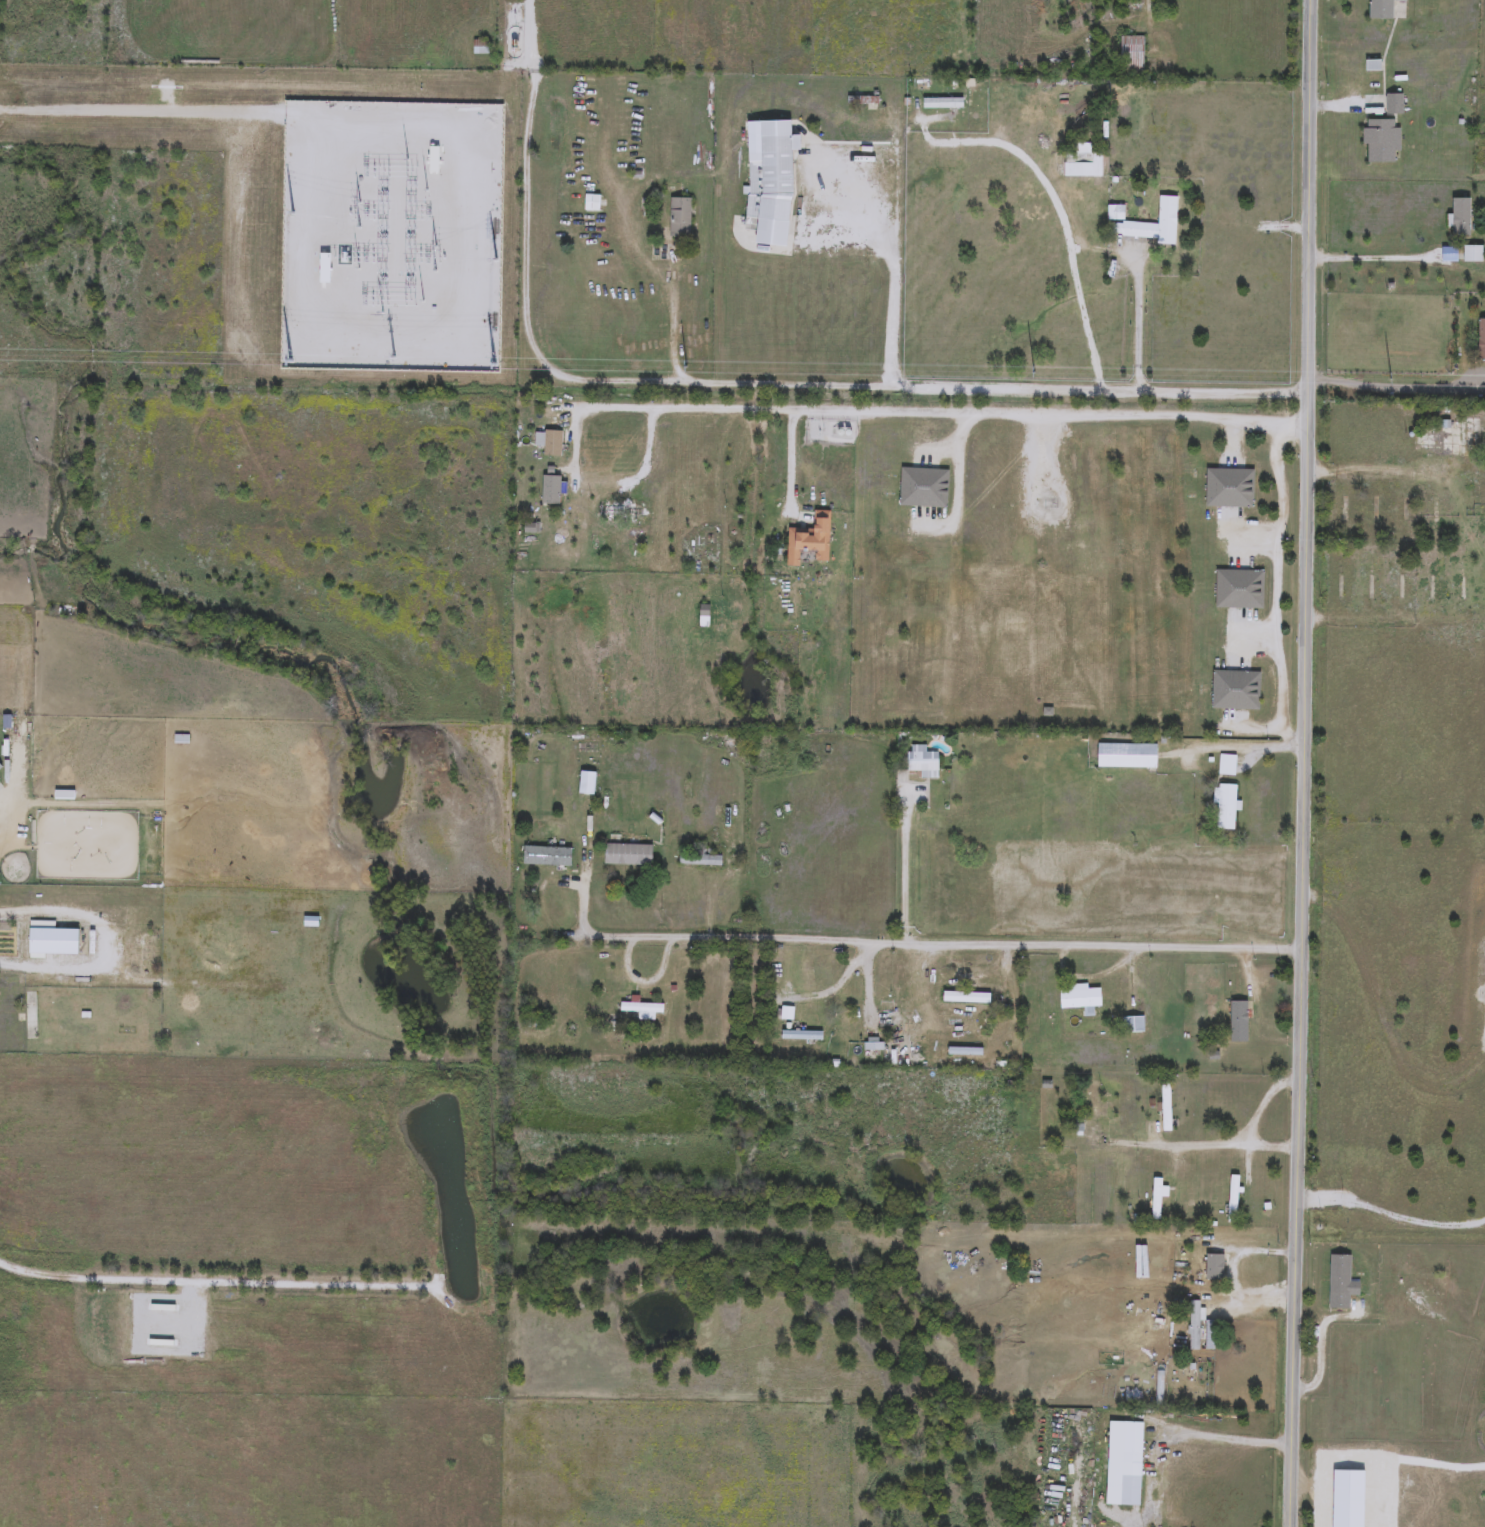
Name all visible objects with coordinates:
building: (1381, 9)
road: (1147, 25)
building: (479, 49)
building: (1132, 57)
building: (861, 102)
building: (940, 104)
building: (1394, 106)
road: (1345, 107)
road: (890, 108)
building: (1381, 142)
building: (1082, 166)
road: (825, 179)
building: (771, 181)
building: (591, 205)
building: (1462, 219)
building: (679, 220)
building: (1153, 226)
road: (1070, 238)
building: (1473, 255)
road: (1377, 261)
road: (895, 266)
road: (1139, 330)
building: (1481, 341)
road: (758, 386)
road: (1392, 392)
road: (914, 414)
building: (1450, 437)
building: (552, 445)
road: (1394, 472)
building: (923, 489)
building: (1229, 490)
building: (550, 492)
building: (1399, 516)
building: (1337, 518)
building: (809, 541)
road: (952, 553)
building: (1377, 583)
building: (1438, 585)
road: (1276, 589)
building: (1406, 589)
building: (1239, 591)
road: (1395, 619)
building: (892, 639)
building: (1235, 691)
road: (1240, 749)
building: (1126, 757)
building: (923, 763)
road: (1304, 763)
building: (1226, 766)
building: (0, 768)
building: (65, 806)
building: (1225, 808)
building: (628, 856)
building: (547, 857)
building: (700, 860)
road: (904, 862)
road: (582, 889)
road: (708, 904)
building: (51, 941)
road: (936, 945)
road: (115, 948)
road: (976, 974)
road: (1092, 978)
road: (644, 984)
road: (881, 994)
building: (969, 996)
building: (1080, 999)
building: (839, 1000)
building: (641, 1009)
building: (1238, 1023)
building: (1133, 1025)
building: (1098, 1102)
building: (1165, 1109)
road: (1212, 1145)
building: (1157, 1200)
building: (1233, 1201)
building: (1215, 1269)
building: (1341, 1284)
building: (1194, 1327)
road: (1320, 1342)
building: (1132, 1444)
building: (1124, 1497)

